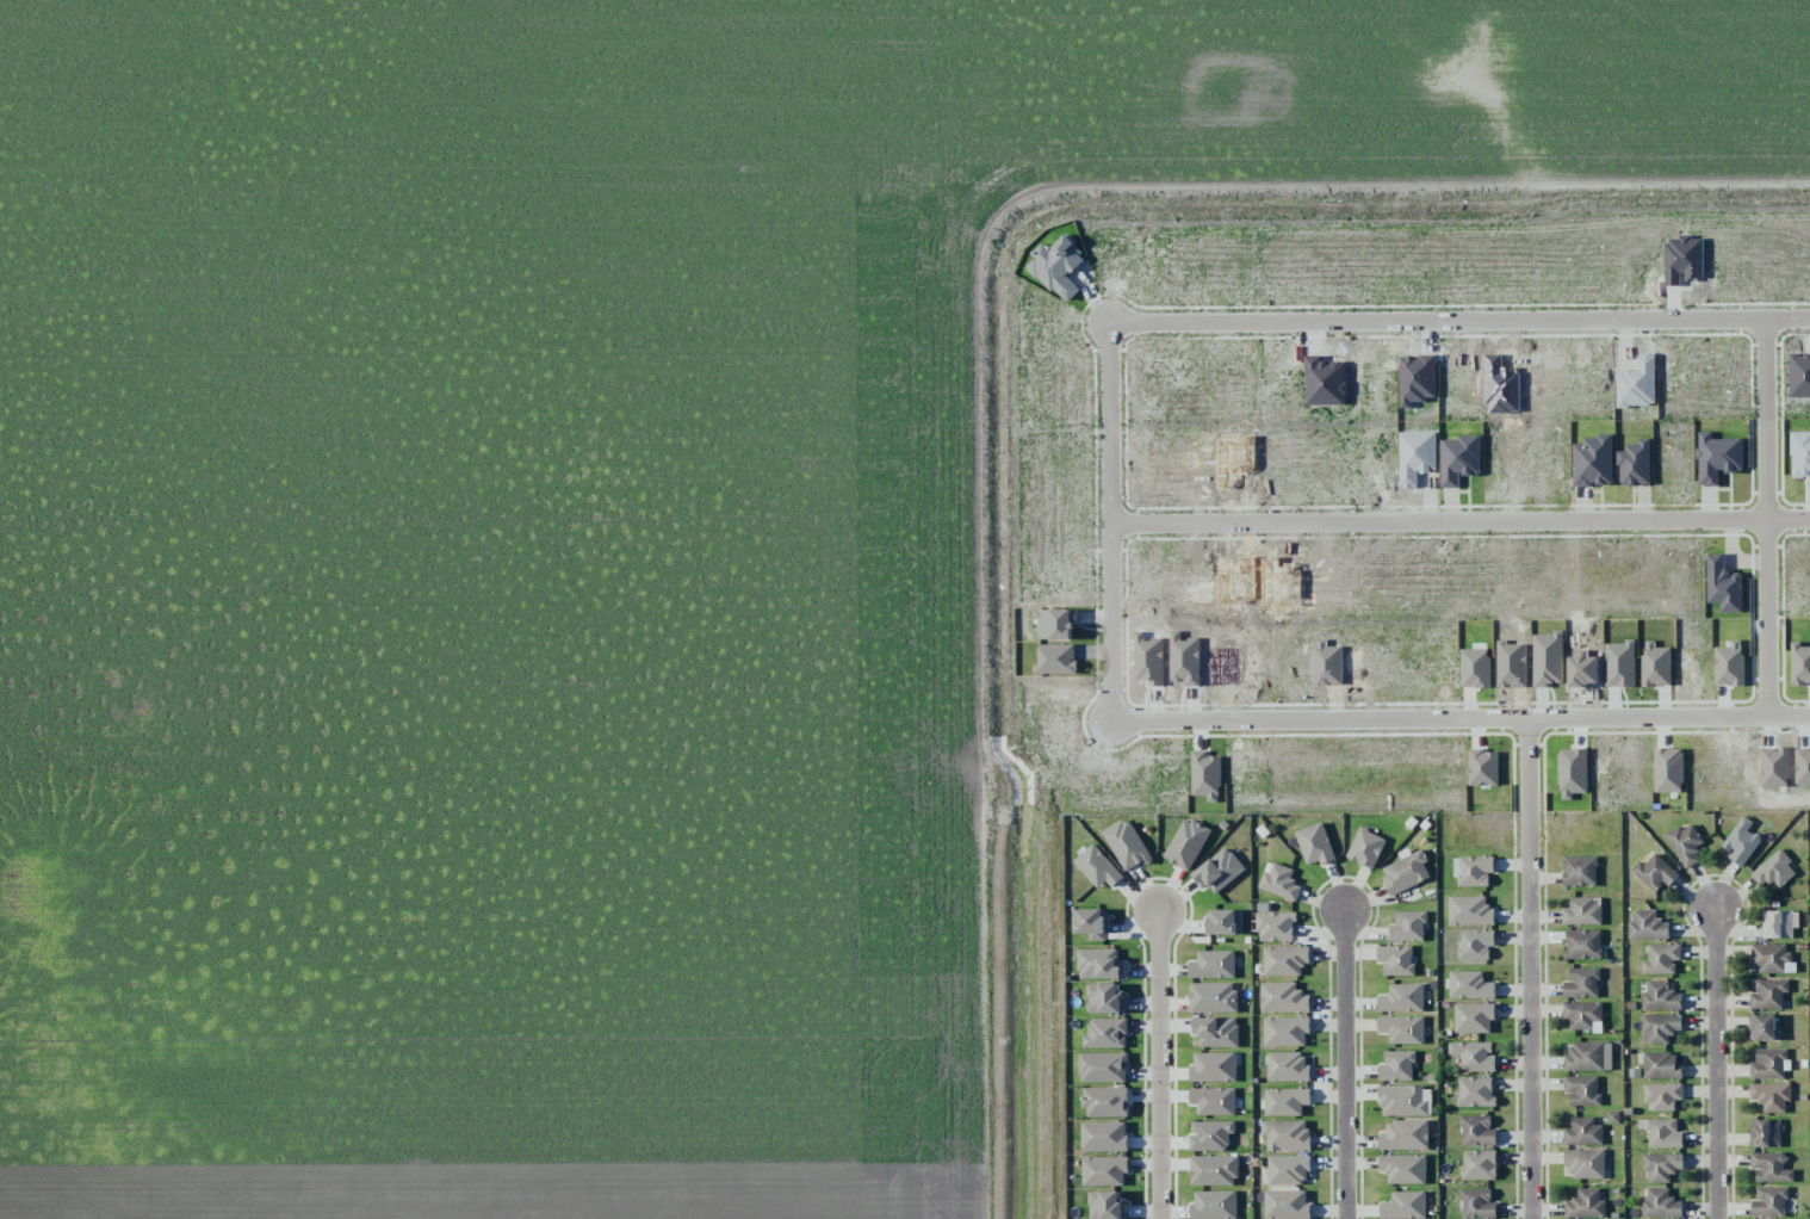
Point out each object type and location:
building: (1635, 464)
road: (1779, 519)
road: (1118, 521)
road: (1464, 522)
building: (1723, 584)
building: (1741, 841)
building: (1186, 843)
building: (1126, 844)
building: (1315, 844)
building: (1686, 844)
building: (1365, 848)
building: (1098, 867)
building: (1220, 871)
building: (1473, 871)
building: (1580, 871)
building: (1773, 871)
building: (1405, 872)
building: (1655, 872)
building: (1279, 881)
building: (1470, 910)
building: (1582, 911)
building: (1225, 921)
building: (1093, 923)
building: (1779, 923)
building: (1275, 924)
building: (1408, 926)
building: (1647, 926)
building: (1476, 943)
building: (1582, 943)
building: (1771, 958)
building: (1396, 959)
building: (1662, 959)
building: (1284, 960)
building: (1099, 964)
building: (1213, 965)
road: (1542, 970)
building: (1582, 983)
building: (1470, 985)
building: (1768, 994)
building: (1661, 996)
building: (1213, 997)
building: (1104, 998)
building: (1283, 998)
building: (1402, 998)
building: (1582, 1014)
building: (1474, 1017)
building: (1660, 1027)
building: (1763, 1027)
building: (1402, 1029)
building: (1285, 1031)
building: (1217, 1032)
building: (1107, 1033)
building: (1474, 1056)
building: (1588, 1057)
road: (1343, 1060)
road: (1716, 1060)
building: (1769, 1064)
building: (1661, 1065)
road: (1161, 1066)
building: (1214, 1066)
building: (1288, 1066)
building: (1397, 1066)
building: (1103, 1068)
building: (1582, 1090)
building: (1475, 1091)
building: (1662, 1095)
building: (1771, 1096)
building: (1402, 1100)
building: (1214, 1101)
building: (1285, 1101)
building: (1105, 1102)
building: (1477, 1131)
building: (1583, 1132)
building: (1767, 1132)
building: (1663, 1133)
building: (1210, 1134)
building: (1287, 1134)
building: (1405, 1136)
building: (1104, 1137)
building: (1585, 1163)
building: (1479, 1164)
building: (1661, 1165)
building: (1771, 1167)
building: (1403, 1168)
building: (1288, 1169)
building: (1104, 1170)
building: (1214, 1170)
building: (1769, 1201)
building: (1477, 1203)
building: (1585, 1203)
building: (1661, 1203)
building: (1107, 1205)
building: (1214, 1205)
building: (1287, 1205)
building: (1403, 1206)

